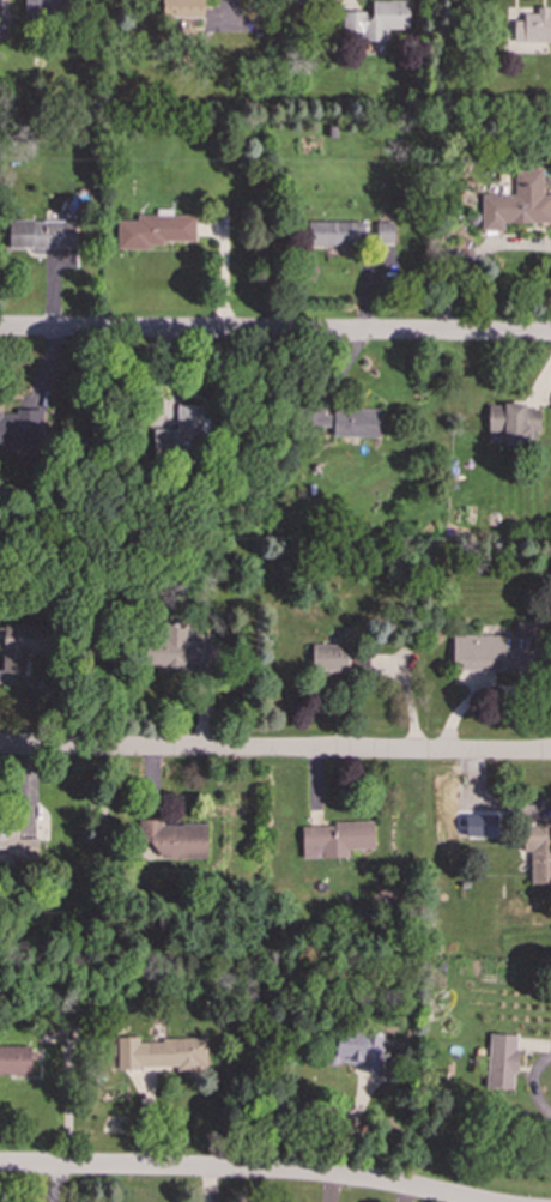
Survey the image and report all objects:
building: (43, 8)
building: (182, 8)
building: (377, 19)
building: (2, 20)
building: (533, 26)
building: (517, 201)
building: (153, 230)
building: (334, 232)
building: (383, 232)
building: (42, 234)
road: (274, 331)
building: (345, 421)
building: (514, 422)
building: (19, 428)
building: (180, 430)
building: (22, 644)
building: (177, 650)
building: (494, 652)
building: (328, 657)
road: (275, 748)
building: (479, 825)
building: (334, 838)
building: (171, 840)
building: (17, 842)
building: (538, 850)
building: (358, 1050)
building: (159, 1052)
building: (14, 1059)
building: (501, 1061)
road: (241, 1168)
road: (47, 1190)

